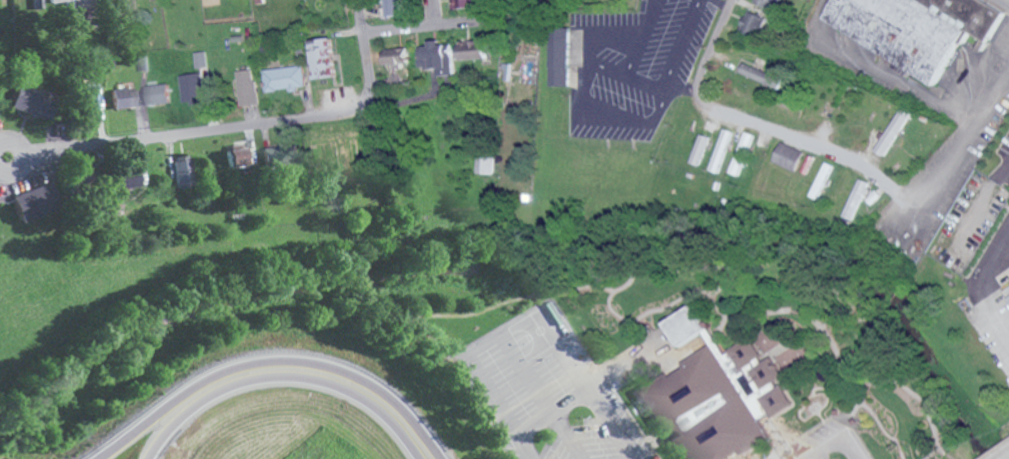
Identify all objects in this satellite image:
road: (1008, 0)
building: (55, 1)
building: (259, 1)
building: (465, 3)
building: (766, 3)
building: (395, 7)
building: (82, 14)
road: (434, 14)
building: (753, 23)
building: (914, 27)
road: (410, 30)
building: (473, 49)
building: (399, 56)
building: (560, 56)
building: (323, 57)
building: (439, 57)
building: (760, 75)
building: (284, 78)
building: (196, 82)
building: (247, 86)
road: (903, 86)
road: (681, 87)
building: (158, 93)
building: (119, 97)
building: (87, 99)
building: (26, 100)
road: (720, 110)
road: (604, 112)
road: (251, 122)
road: (343, 125)
building: (891, 131)
building: (699, 149)
building: (721, 150)
building: (275, 153)
building: (742, 153)
building: (788, 155)
building: (236, 157)
building: (483, 164)
road: (1002, 171)
building: (183, 172)
road: (919, 191)
building: (855, 198)
building: (32, 200)
road: (979, 273)
road: (999, 319)
building: (684, 325)
building: (743, 352)
road: (271, 365)
road: (284, 378)
road: (491, 389)
road: (585, 390)
road: (543, 396)
road: (597, 405)
building: (715, 405)
road: (835, 441)

